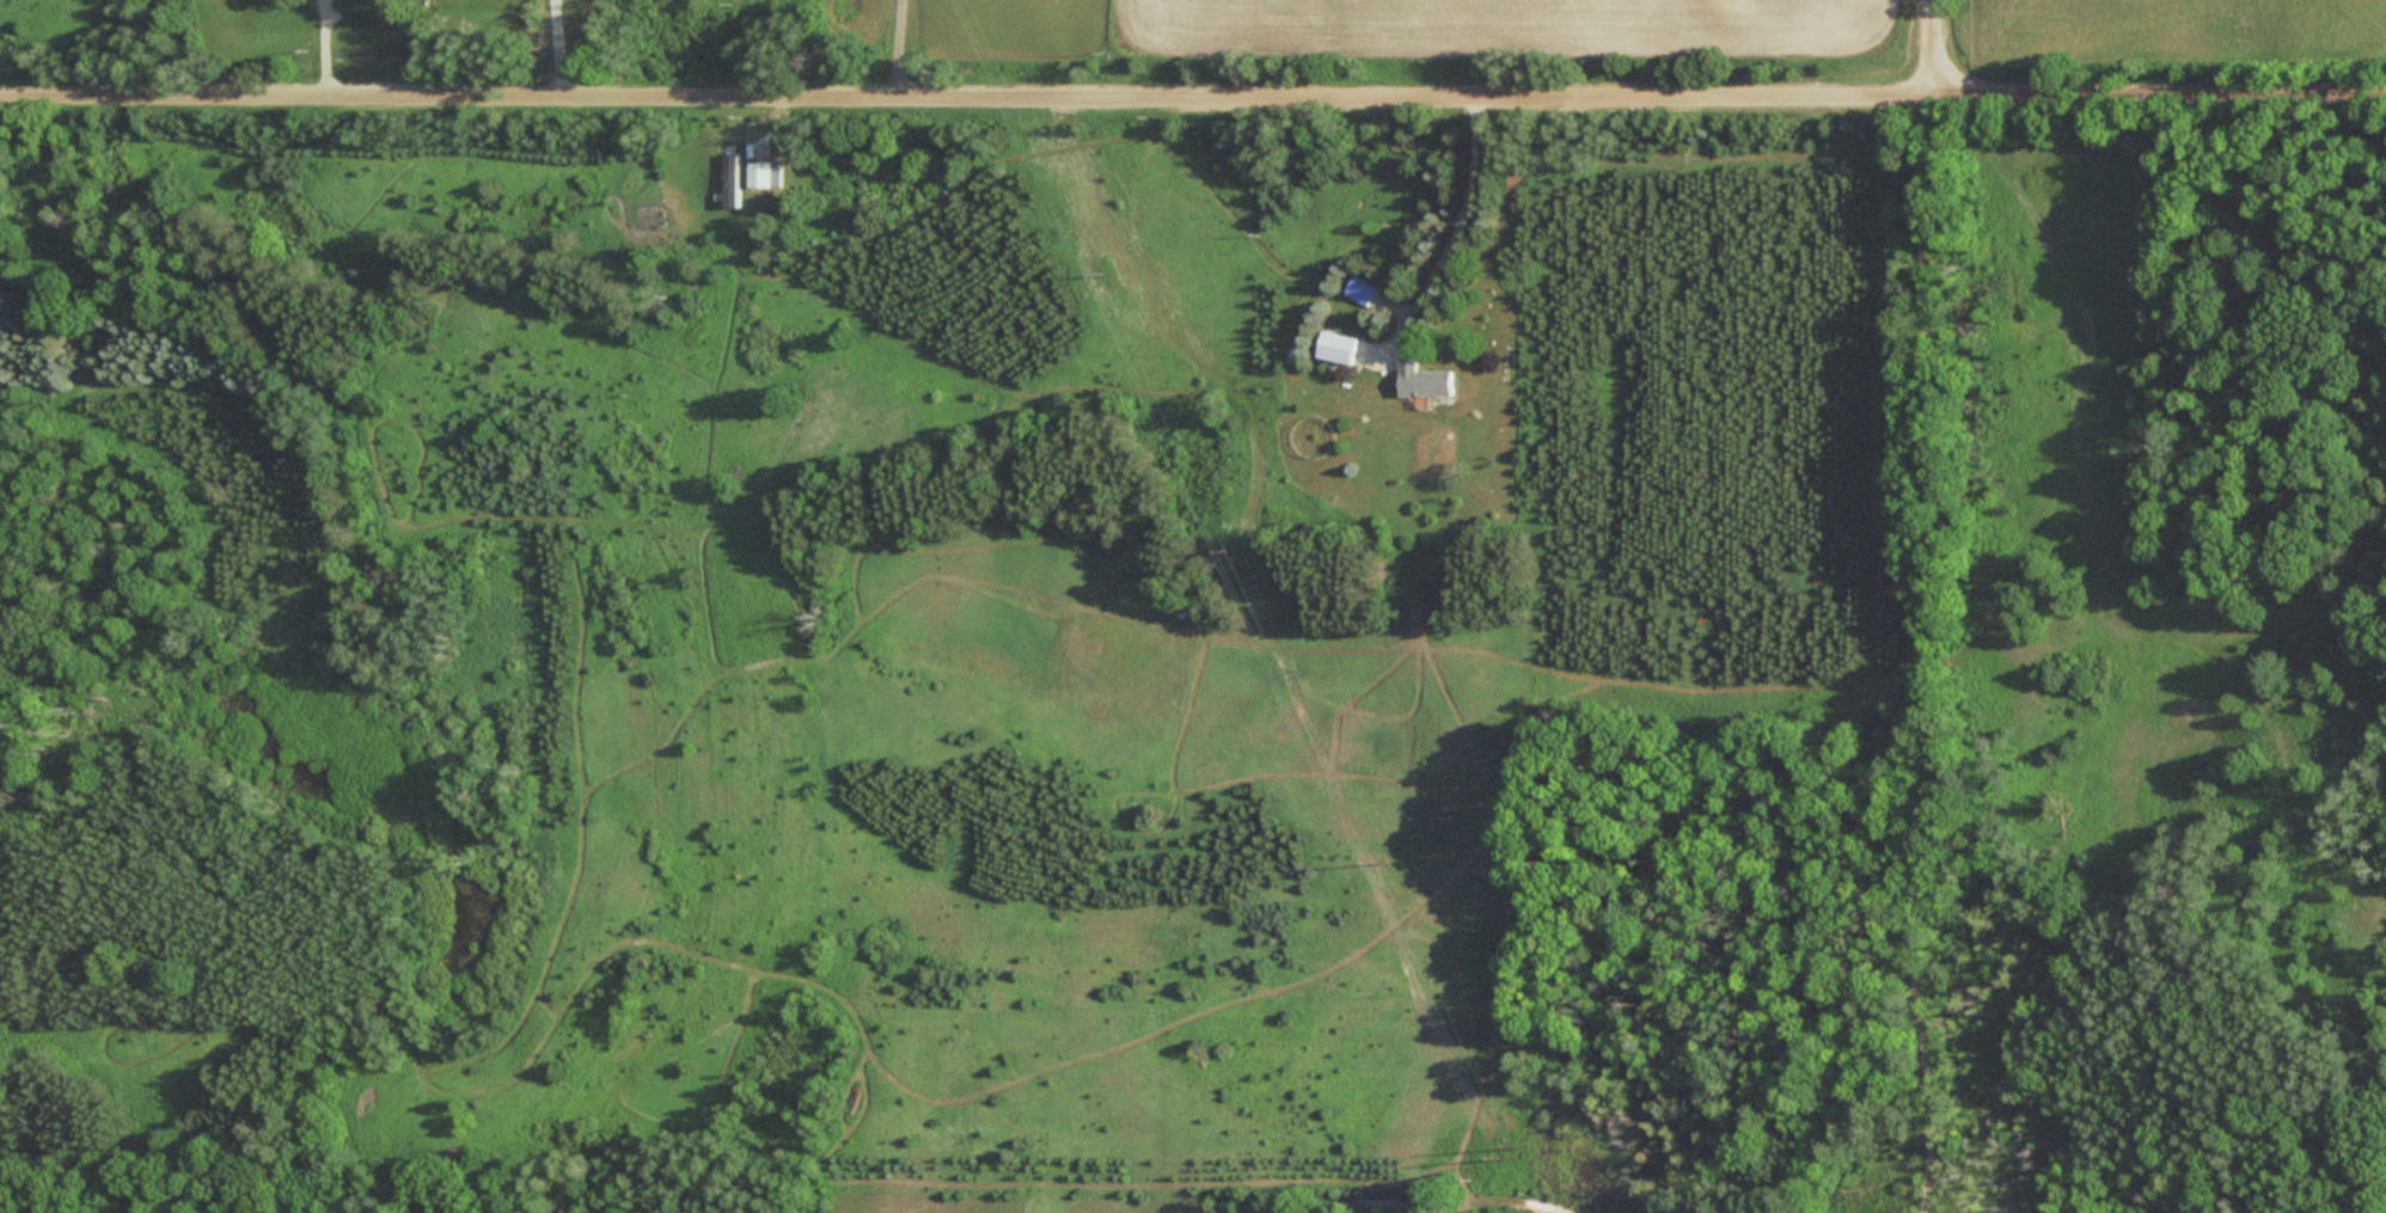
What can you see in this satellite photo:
road: (1932, 47)
road: (1193, 94)
building: (763, 148)
building: (734, 167)
building: (769, 174)
building: (1359, 289)
building: (1334, 347)
building: (1421, 379)

